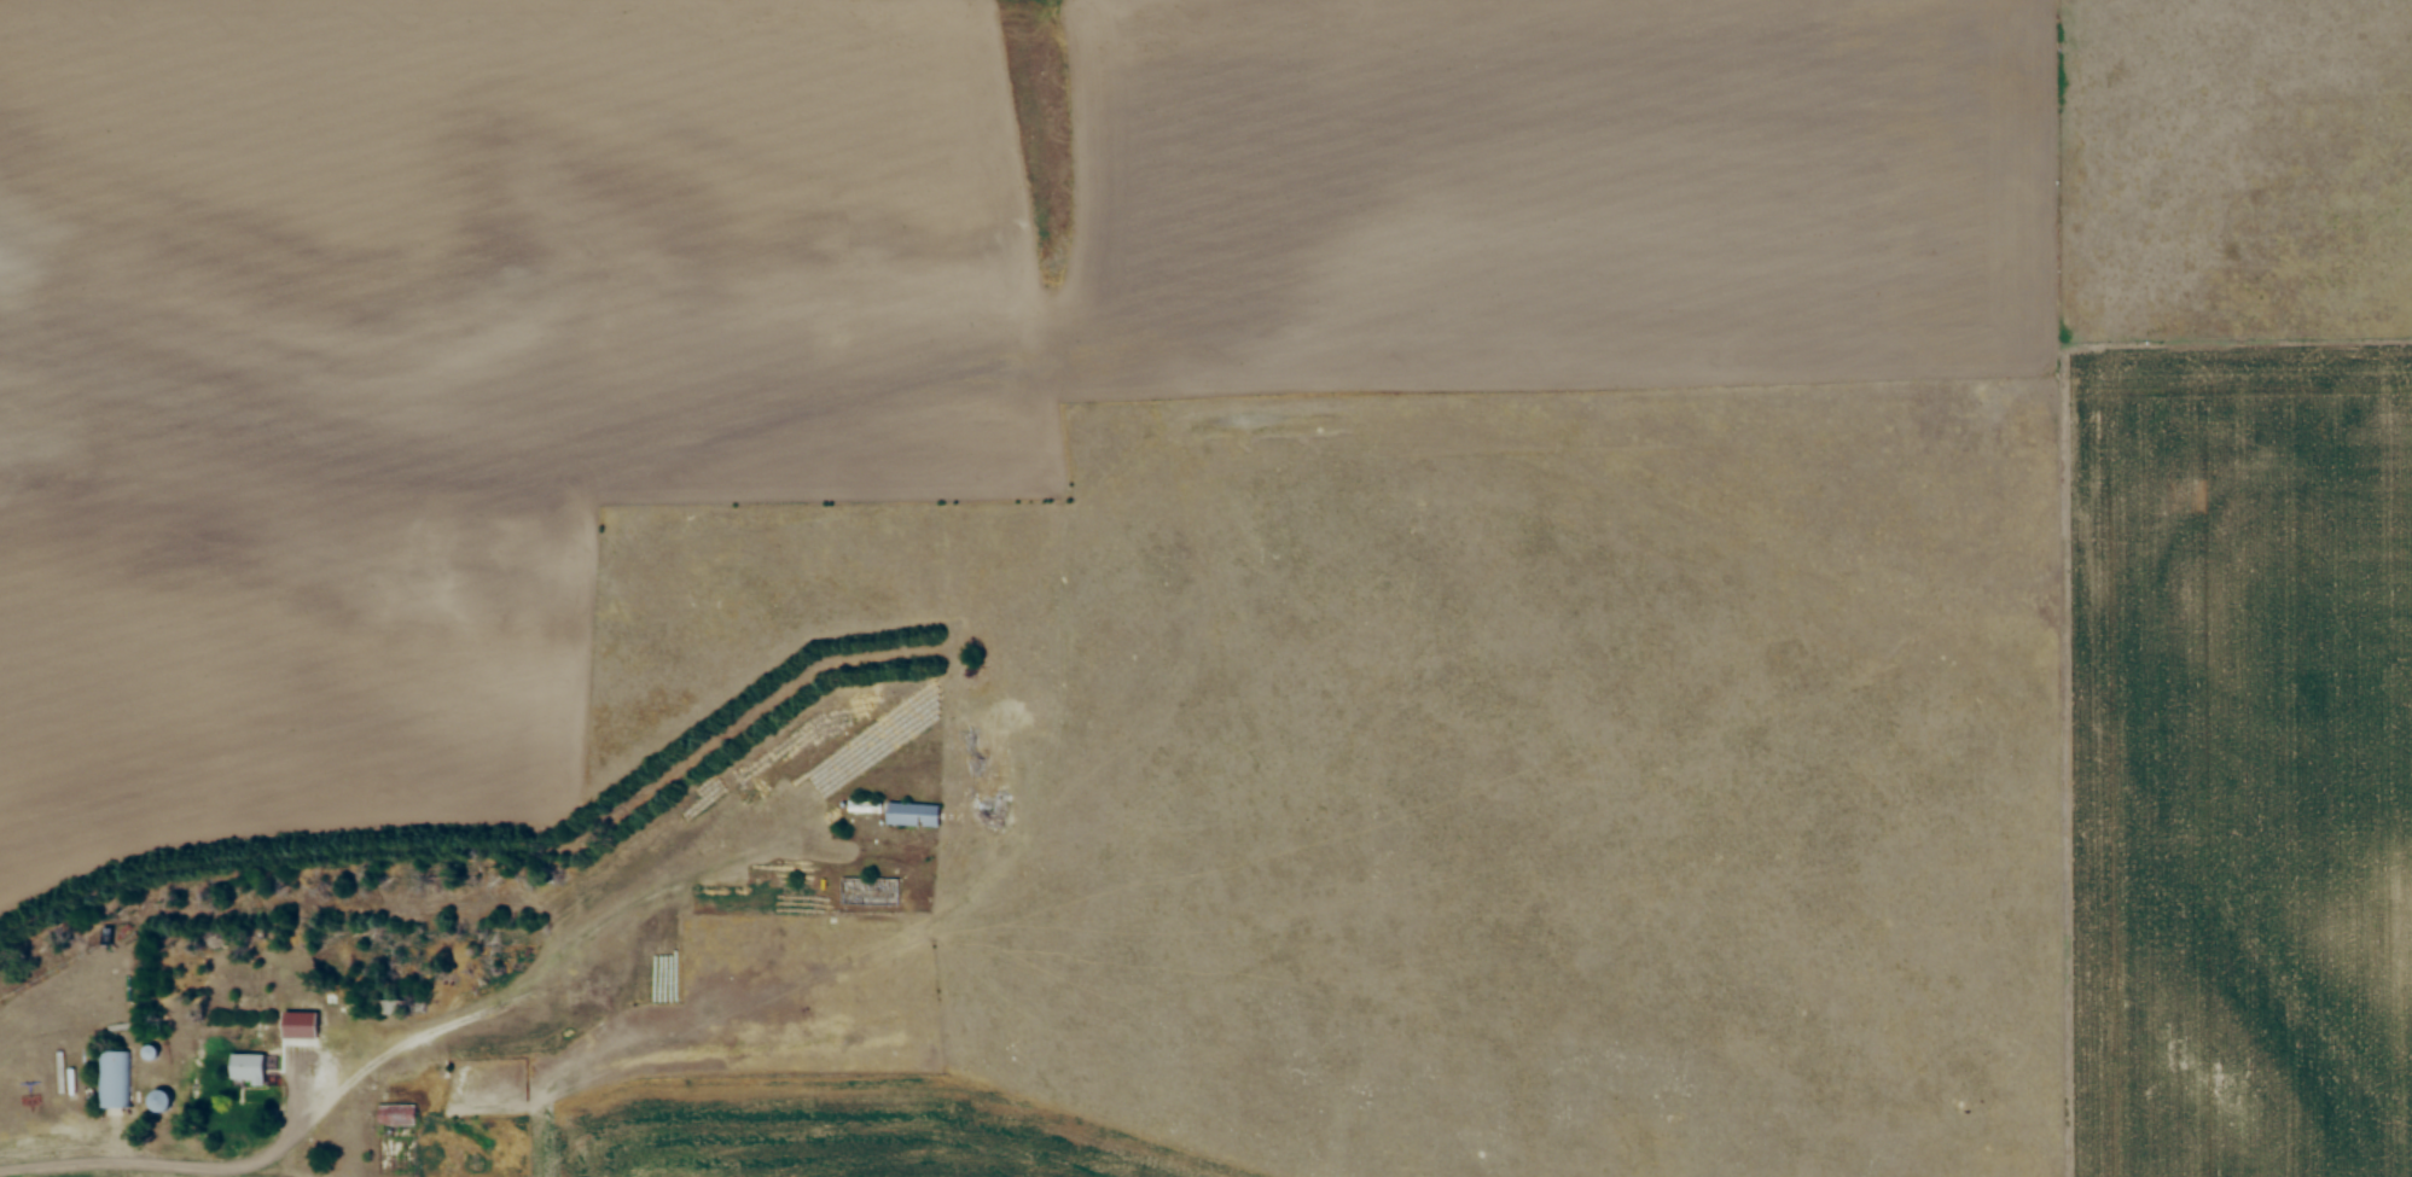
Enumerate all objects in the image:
building: (865, 805)
building: (913, 812)
building: (248, 1066)
building: (114, 1077)
building: (161, 1099)
building: (396, 1113)
road: (188, 1161)

